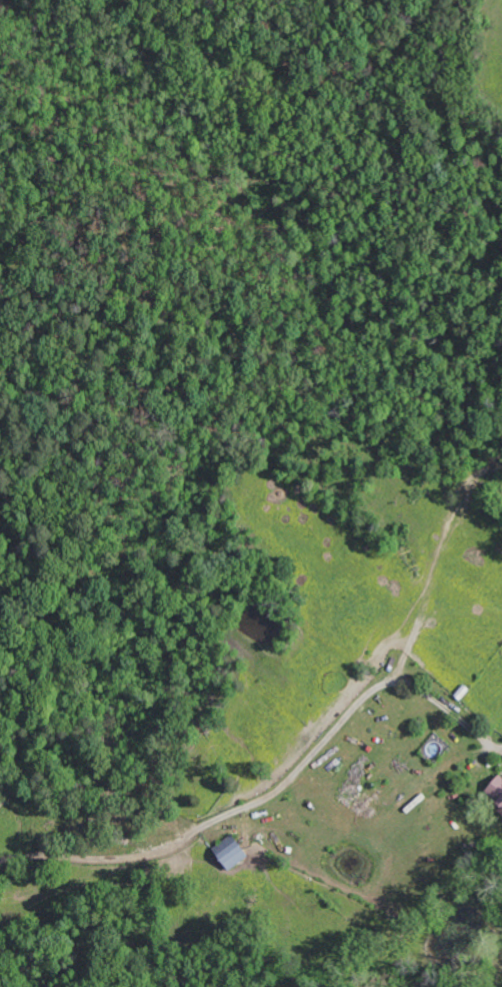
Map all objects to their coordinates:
building: (235, 851)

